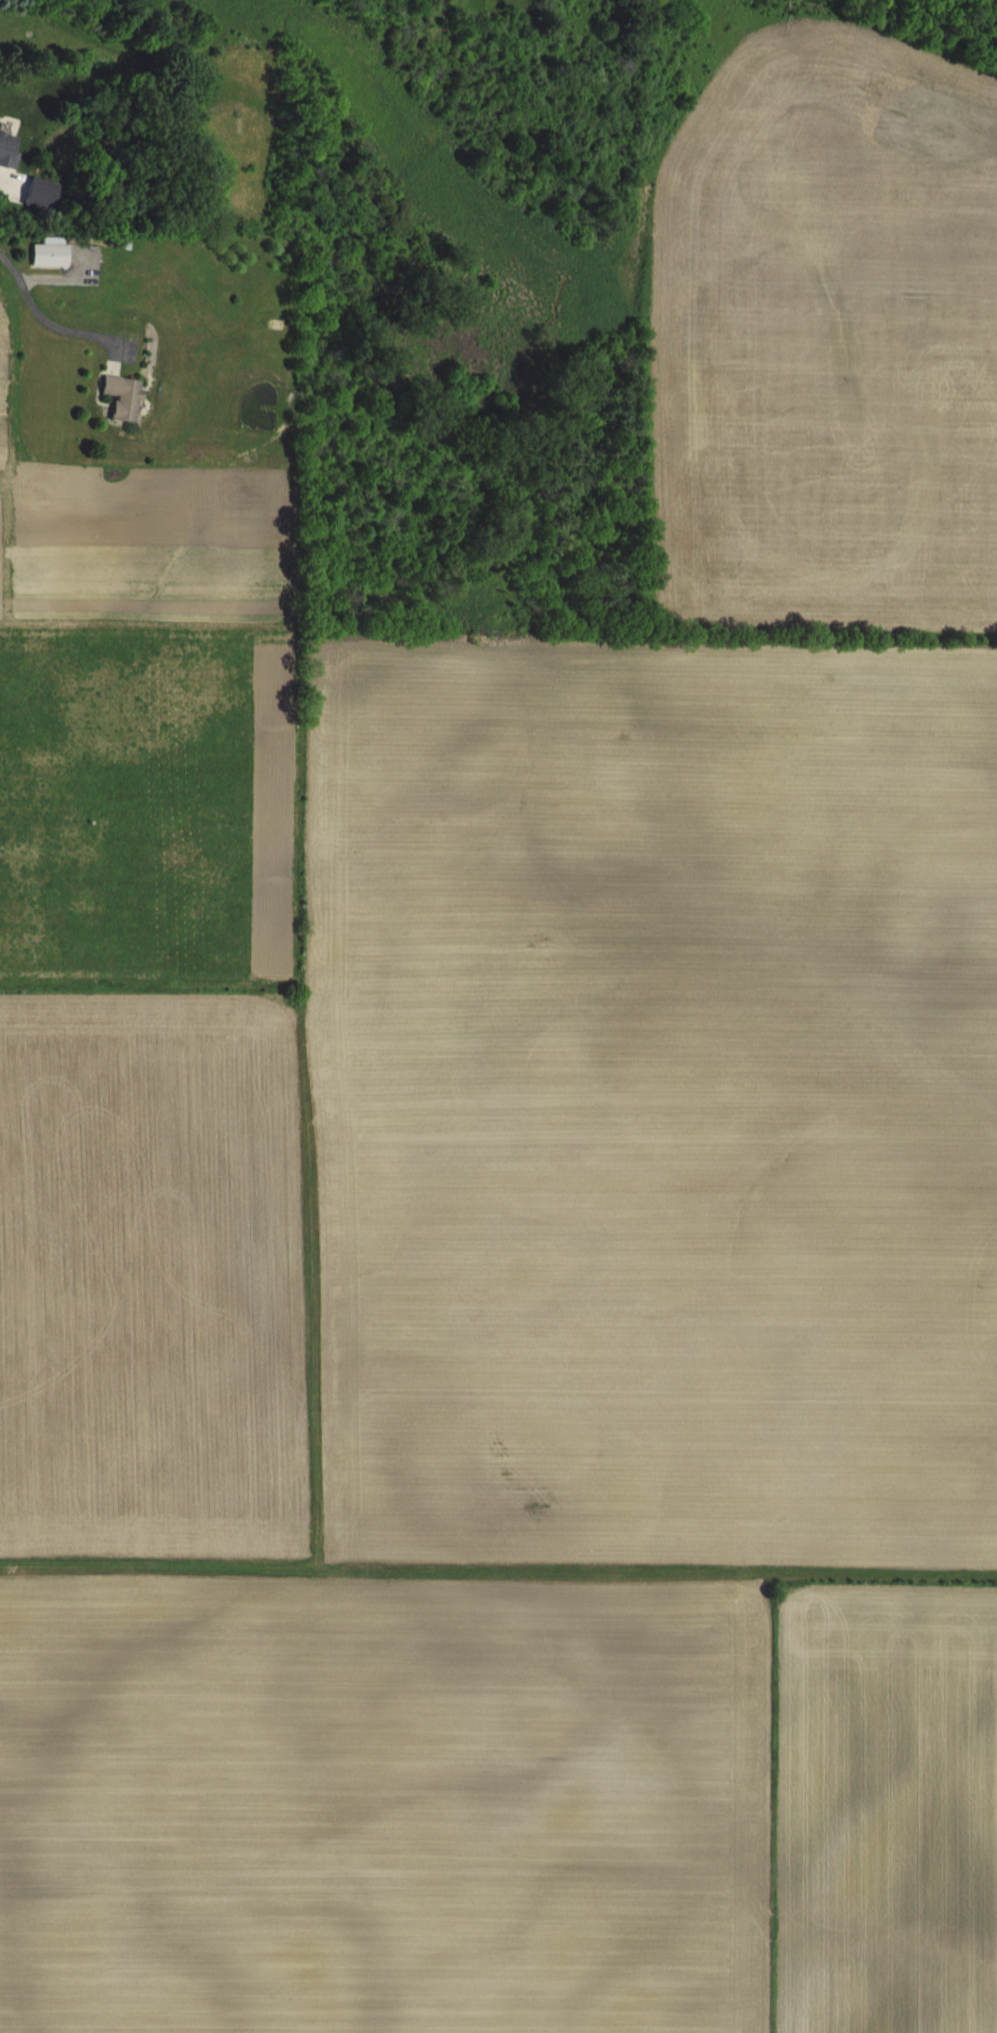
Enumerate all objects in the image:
building: (5, 147)
building: (44, 254)
road: (46, 315)
building: (117, 396)
crop: (531, 1173)

